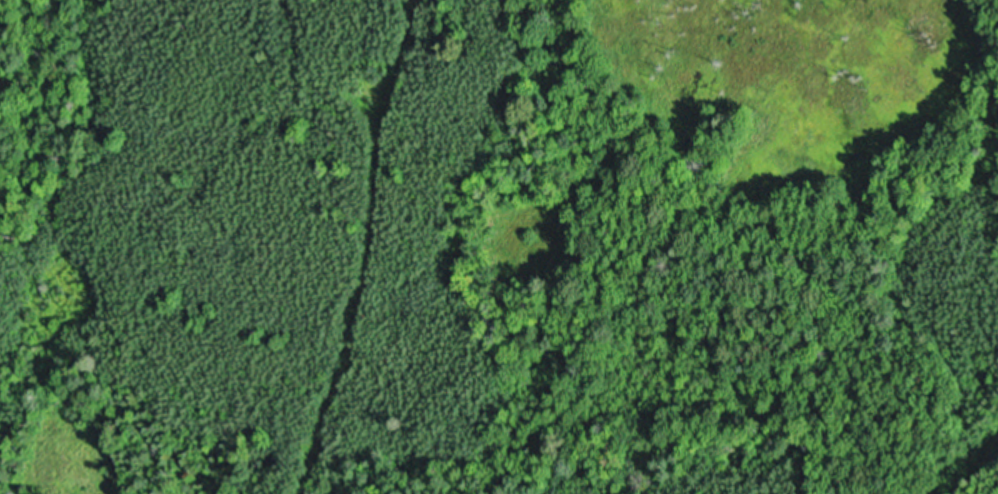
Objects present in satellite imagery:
road: (399, 242)

